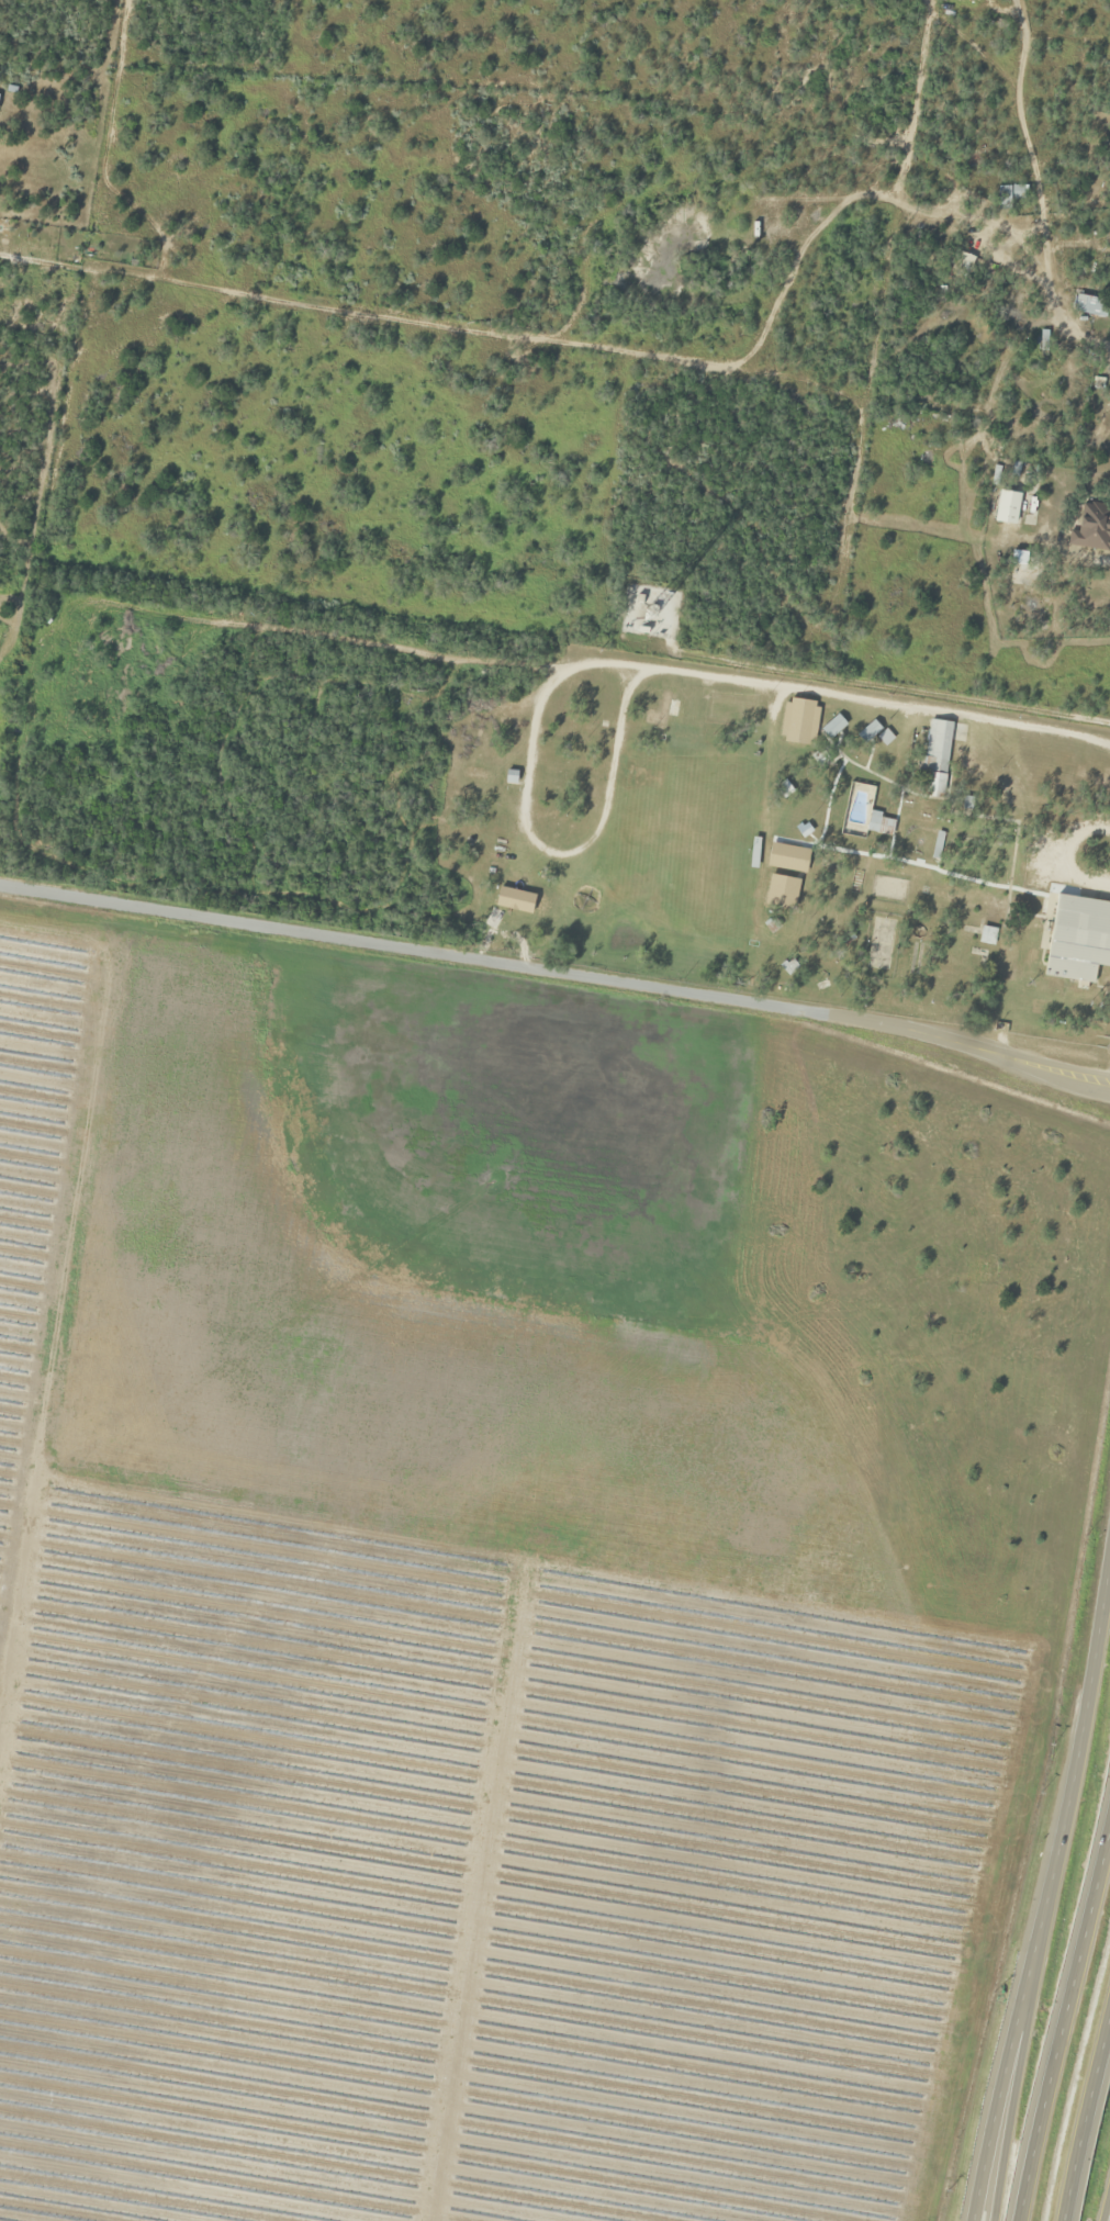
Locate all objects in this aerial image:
building: (1009, 193)
building: (1089, 306)
building: (1043, 349)
building: (1007, 507)
building: (1089, 525)
building: (661, 713)
building: (798, 722)
building: (833, 727)
building: (868, 732)
building: (935, 755)
building: (862, 815)
building: (787, 859)
building: (515, 883)
building: (492, 919)
building: (1076, 933)
building: (986, 936)
road: (557, 969)
road: (1054, 1907)
road: (1062, 2029)
road: (1097, 2082)
road: (1076, 2178)
road: (1000, 2191)
road: (1107, 2210)

